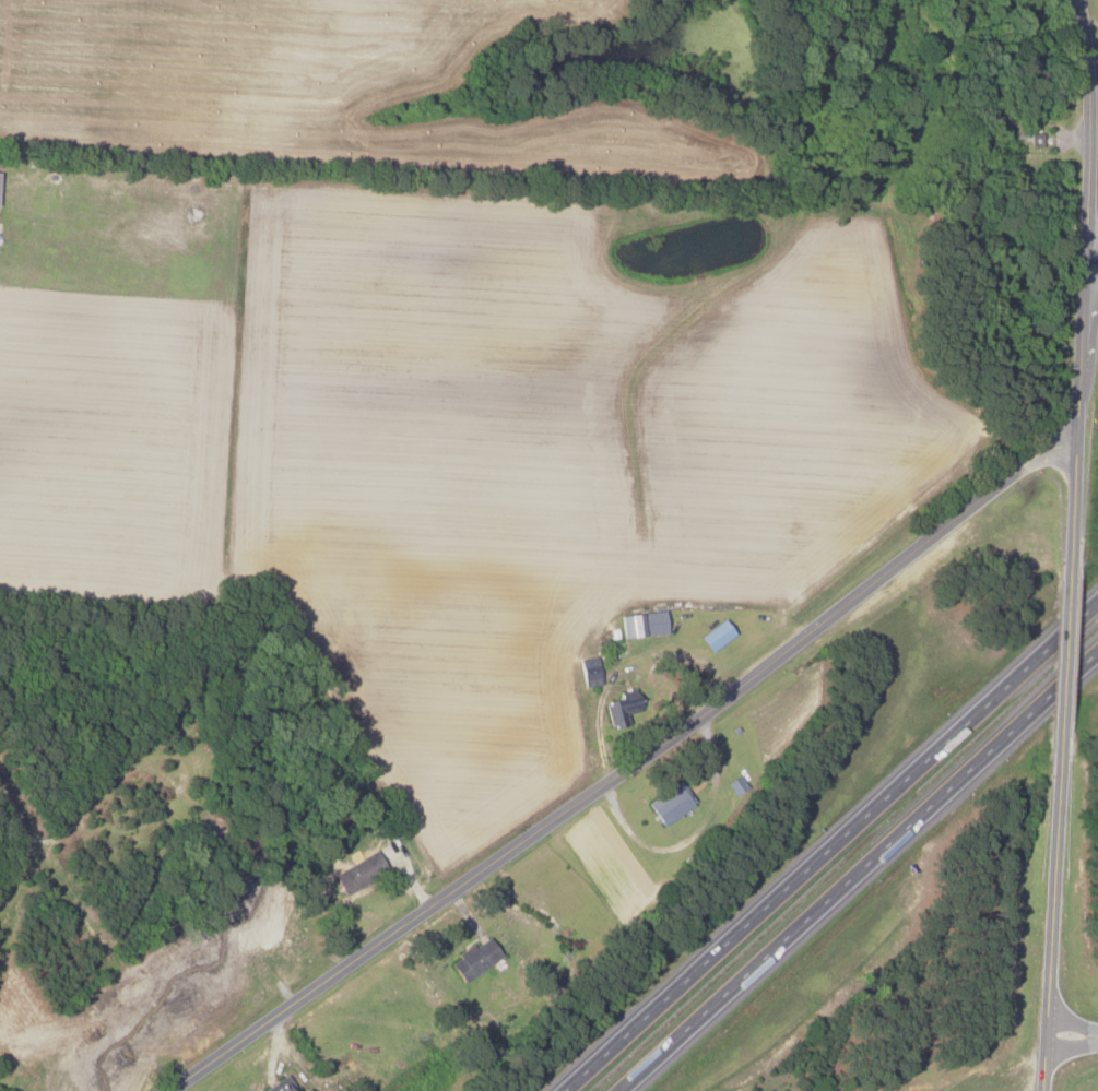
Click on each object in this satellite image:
road: (1087, 126)
road: (1094, 252)
road: (1083, 346)
road: (1073, 491)
building: (641, 625)
building: (713, 636)
road: (1065, 653)
building: (589, 672)
building: (619, 708)
road: (624, 768)
building: (668, 805)
road: (836, 845)
building: (356, 874)
road: (863, 875)
road: (1052, 927)
building: (267, 935)
building: (473, 959)
road: (1073, 1033)
building: (279, 1084)
building: (304, 1090)

